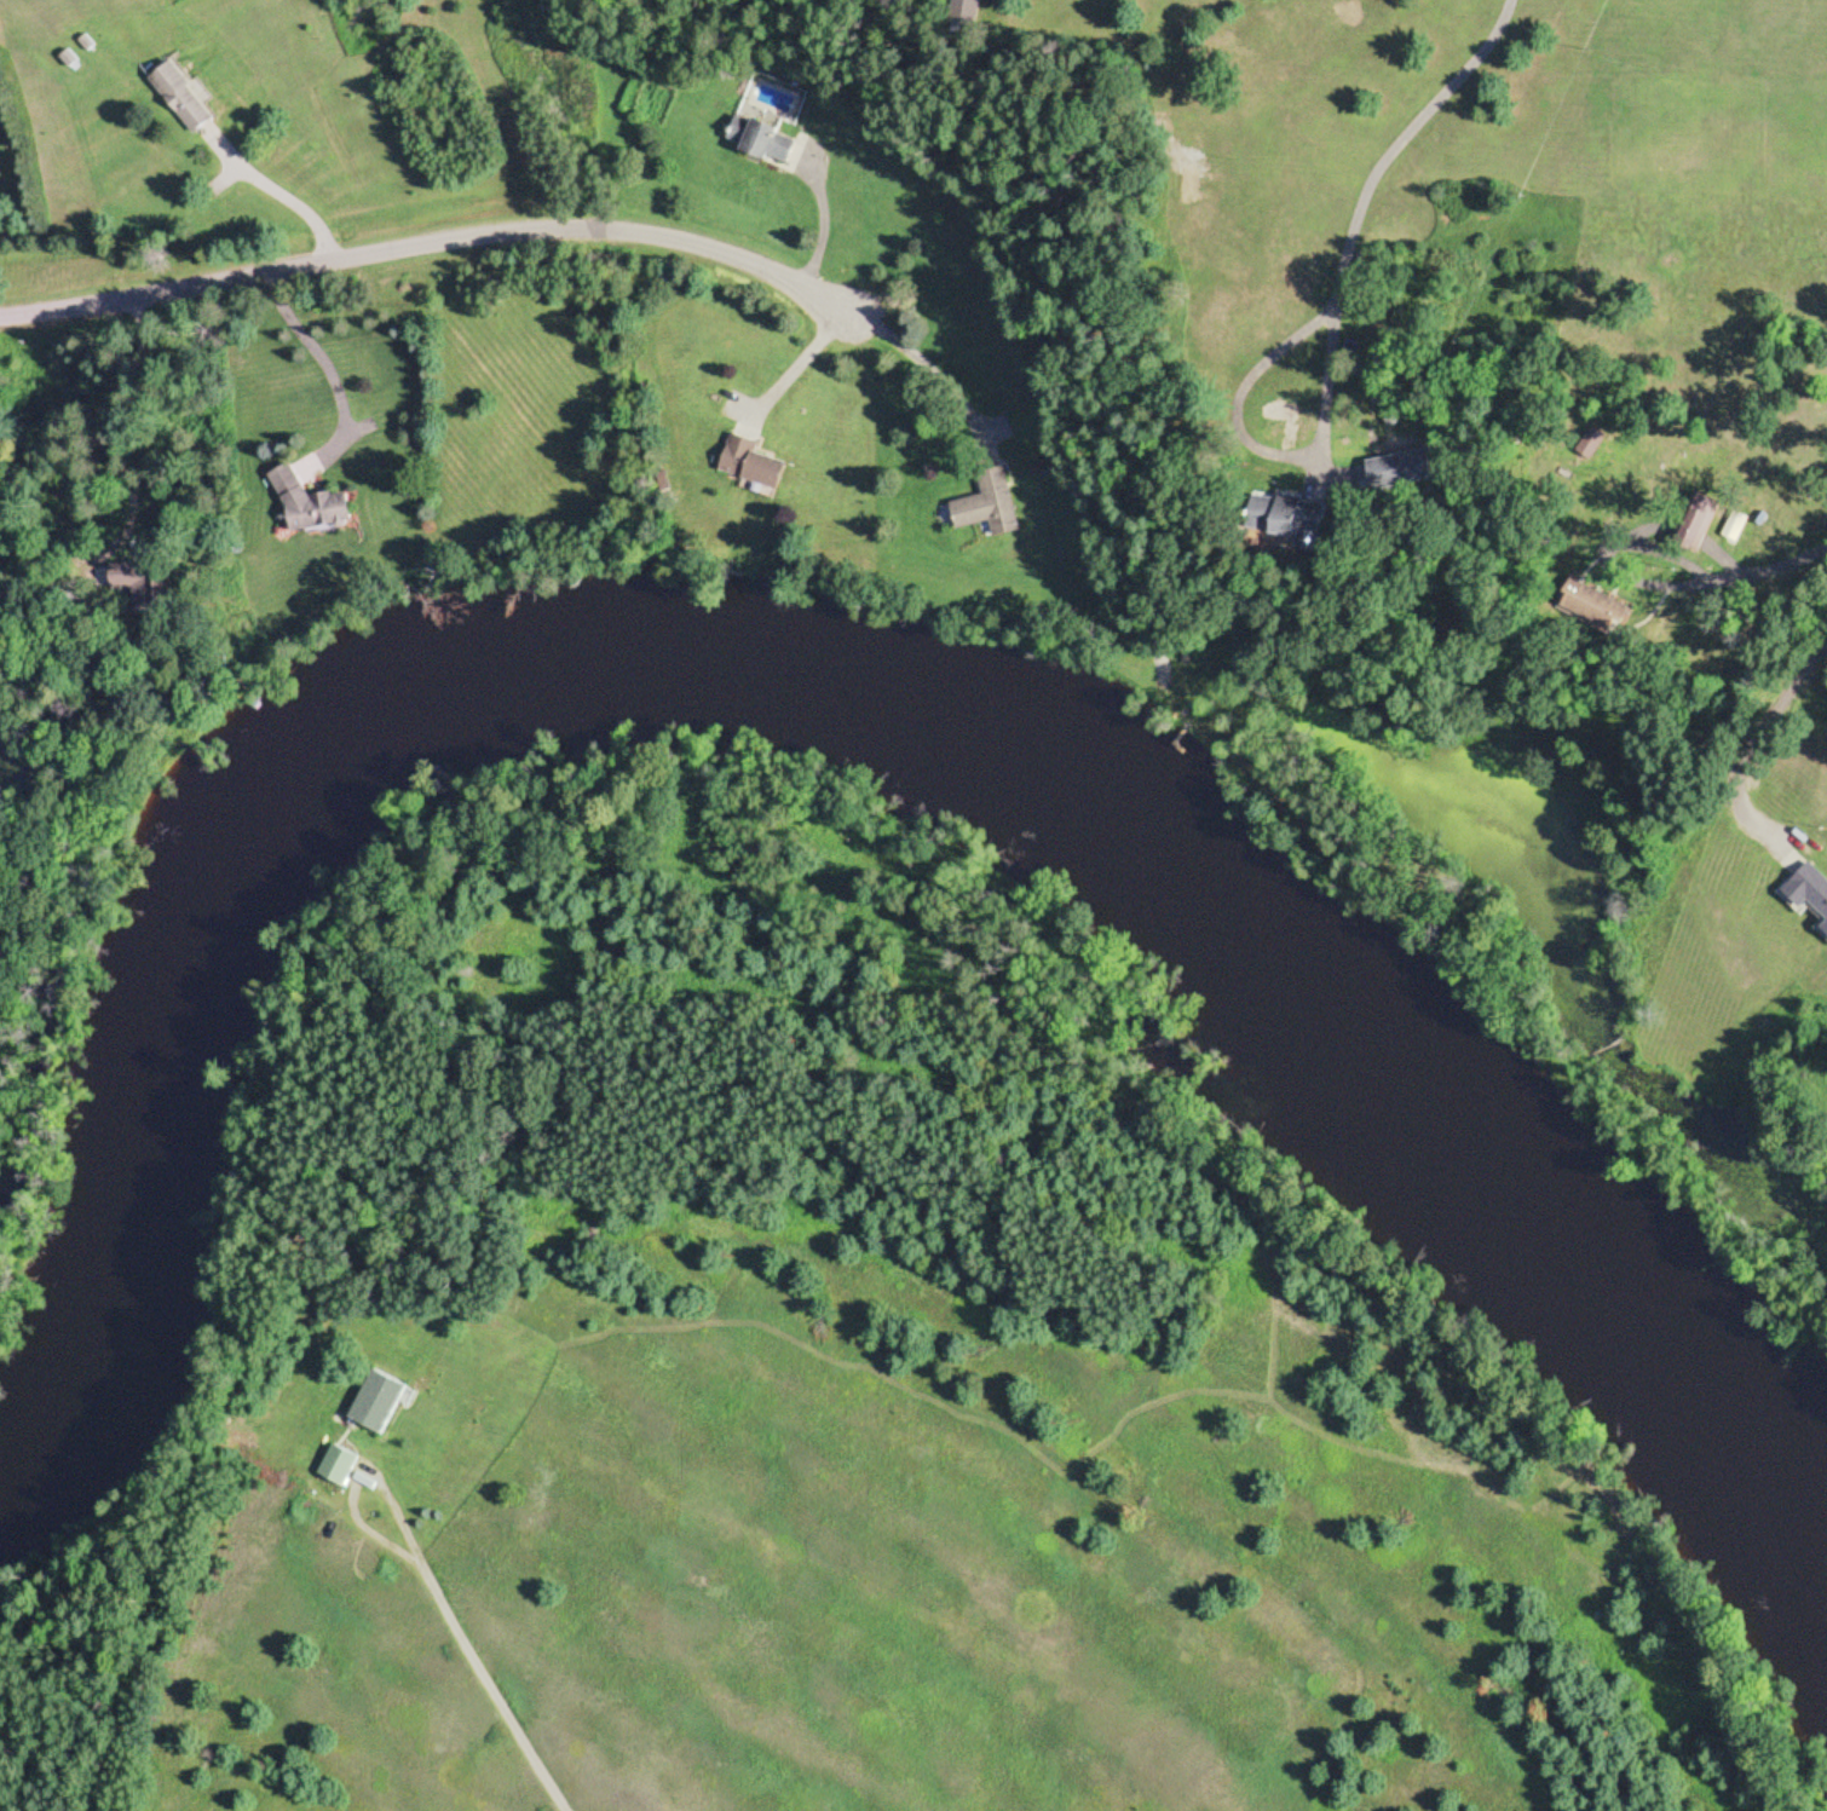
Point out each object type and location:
building: (970, 12)
building: (181, 99)
road: (1418, 106)
building: (759, 140)
road: (442, 248)
building: (753, 467)
building: (309, 503)
building: (990, 506)
building: (1291, 517)
building: (1700, 524)
building: (1735, 527)
building: (136, 575)
building: (1600, 610)
river: (828, 687)
building: (1808, 895)
building: (381, 1402)
building: (341, 1465)
road: (359, 1483)
road: (497, 1695)

